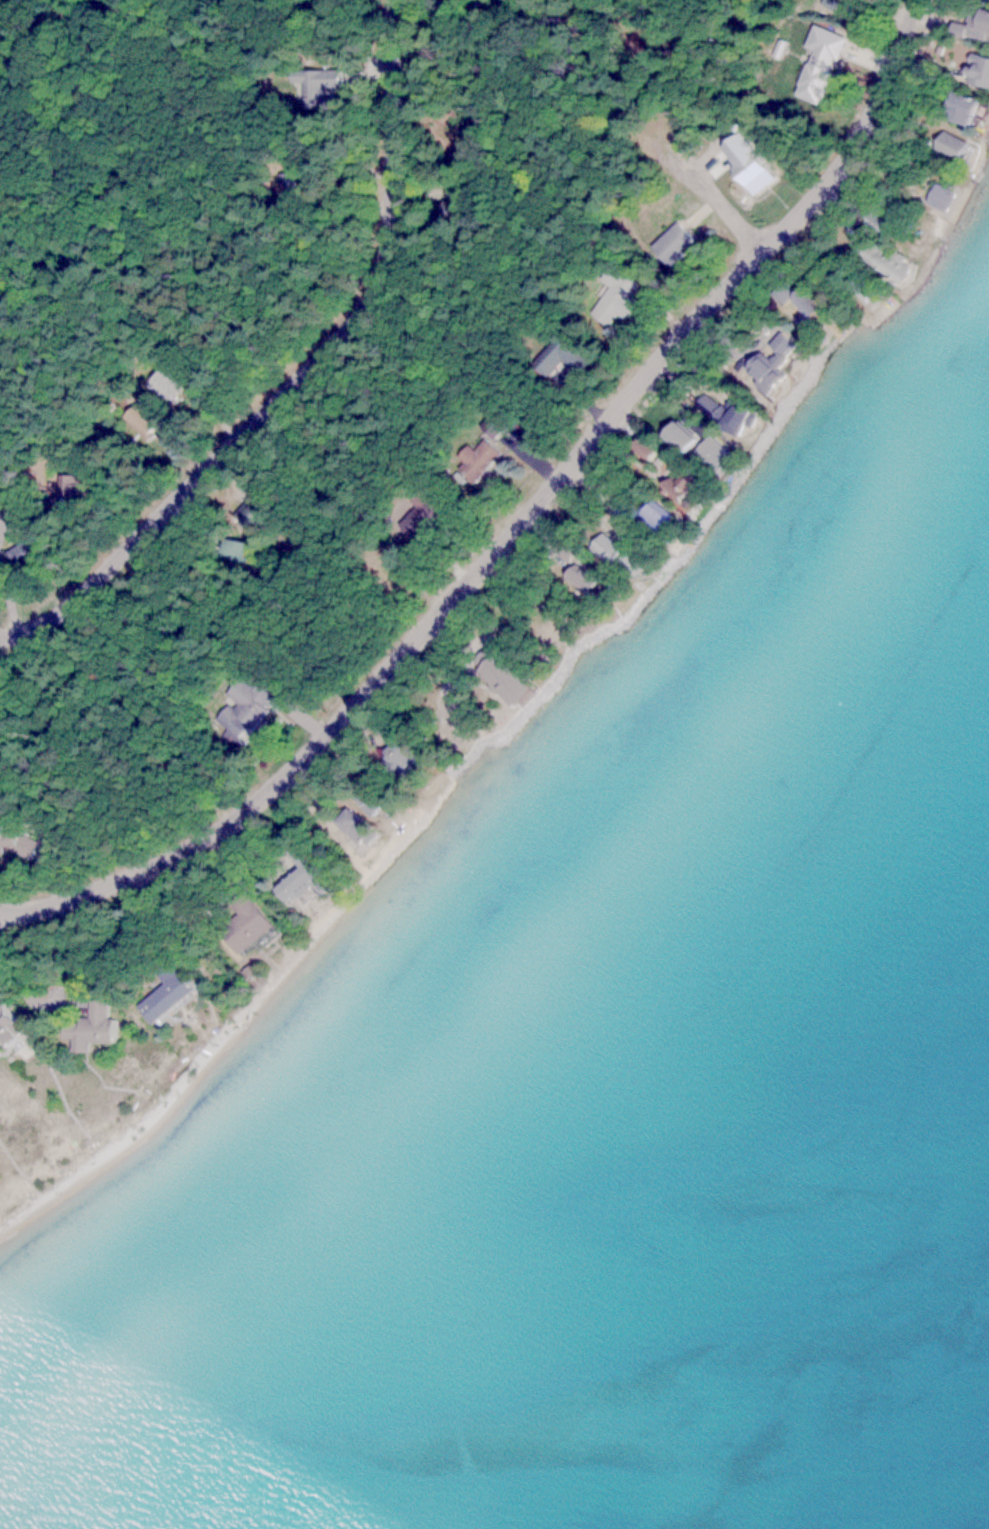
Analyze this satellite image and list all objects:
building: (977, 24)
building: (818, 64)
building: (977, 71)
building: (312, 84)
building: (956, 108)
building: (948, 145)
building: (938, 197)
road: (719, 198)
building: (453, 208)
building: (671, 243)
building: (880, 261)
building: (860, 287)
building: (614, 295)
building: (797, 299)
building: (559, 355)
building: (767, 362)
road: (300, 377)
building: (163, 383)
building: (140, 418)
building: (491, 422)
building: (676, 435)
building: (711, 453)
building: (476, 457)
building: (420, 511)
building: (653, 513)
road: (517, 525)
building: (604, 546)
building: (231, 547)
building: (15, 552)
building: (631, 556)
building: (500, 677)
building: (245, 706)
building: (394, 750)
building: (353, 827)
building: (16, 843)
building: (299, 855)
building: (285, 885)
building: (242, 922)
building: (163, 992)
building: (8, 1027)
building: (88, 1027)

